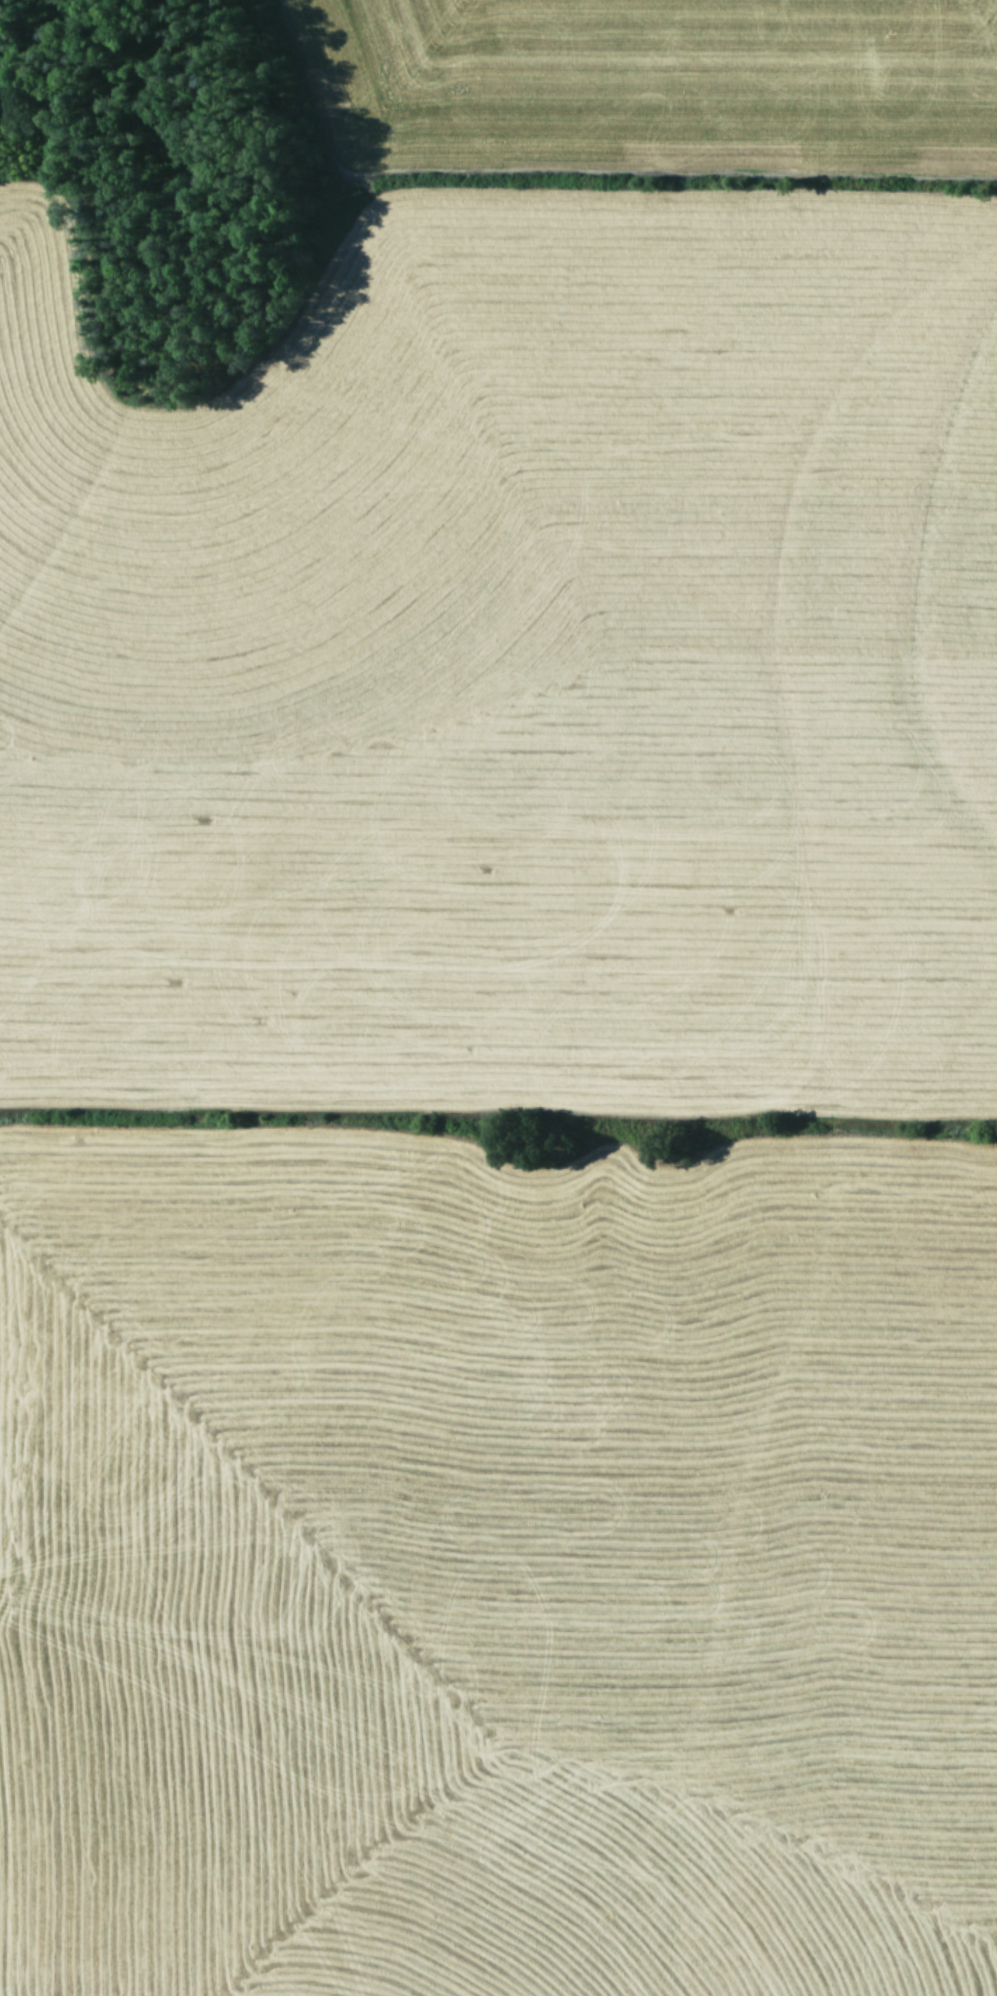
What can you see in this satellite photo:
crop: (515, 1040)

